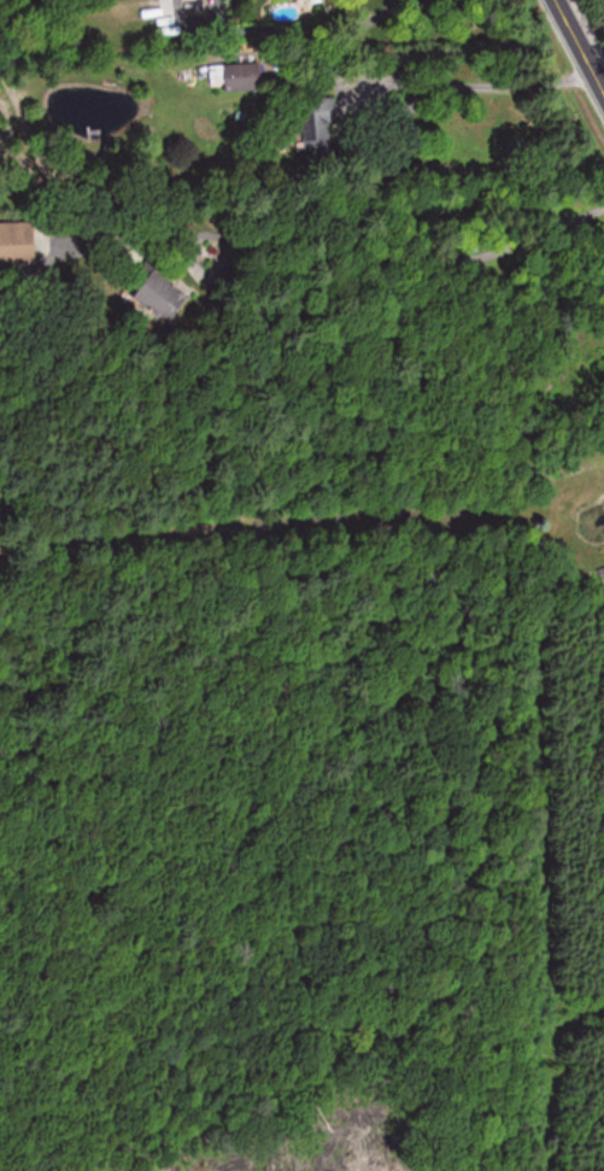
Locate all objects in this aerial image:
road: (298, 29)
road: (573, 57)
building: (233, 76)
road: (455, 82)
building: (17, 244)
building: (147, 295)
building: (599, 575)

